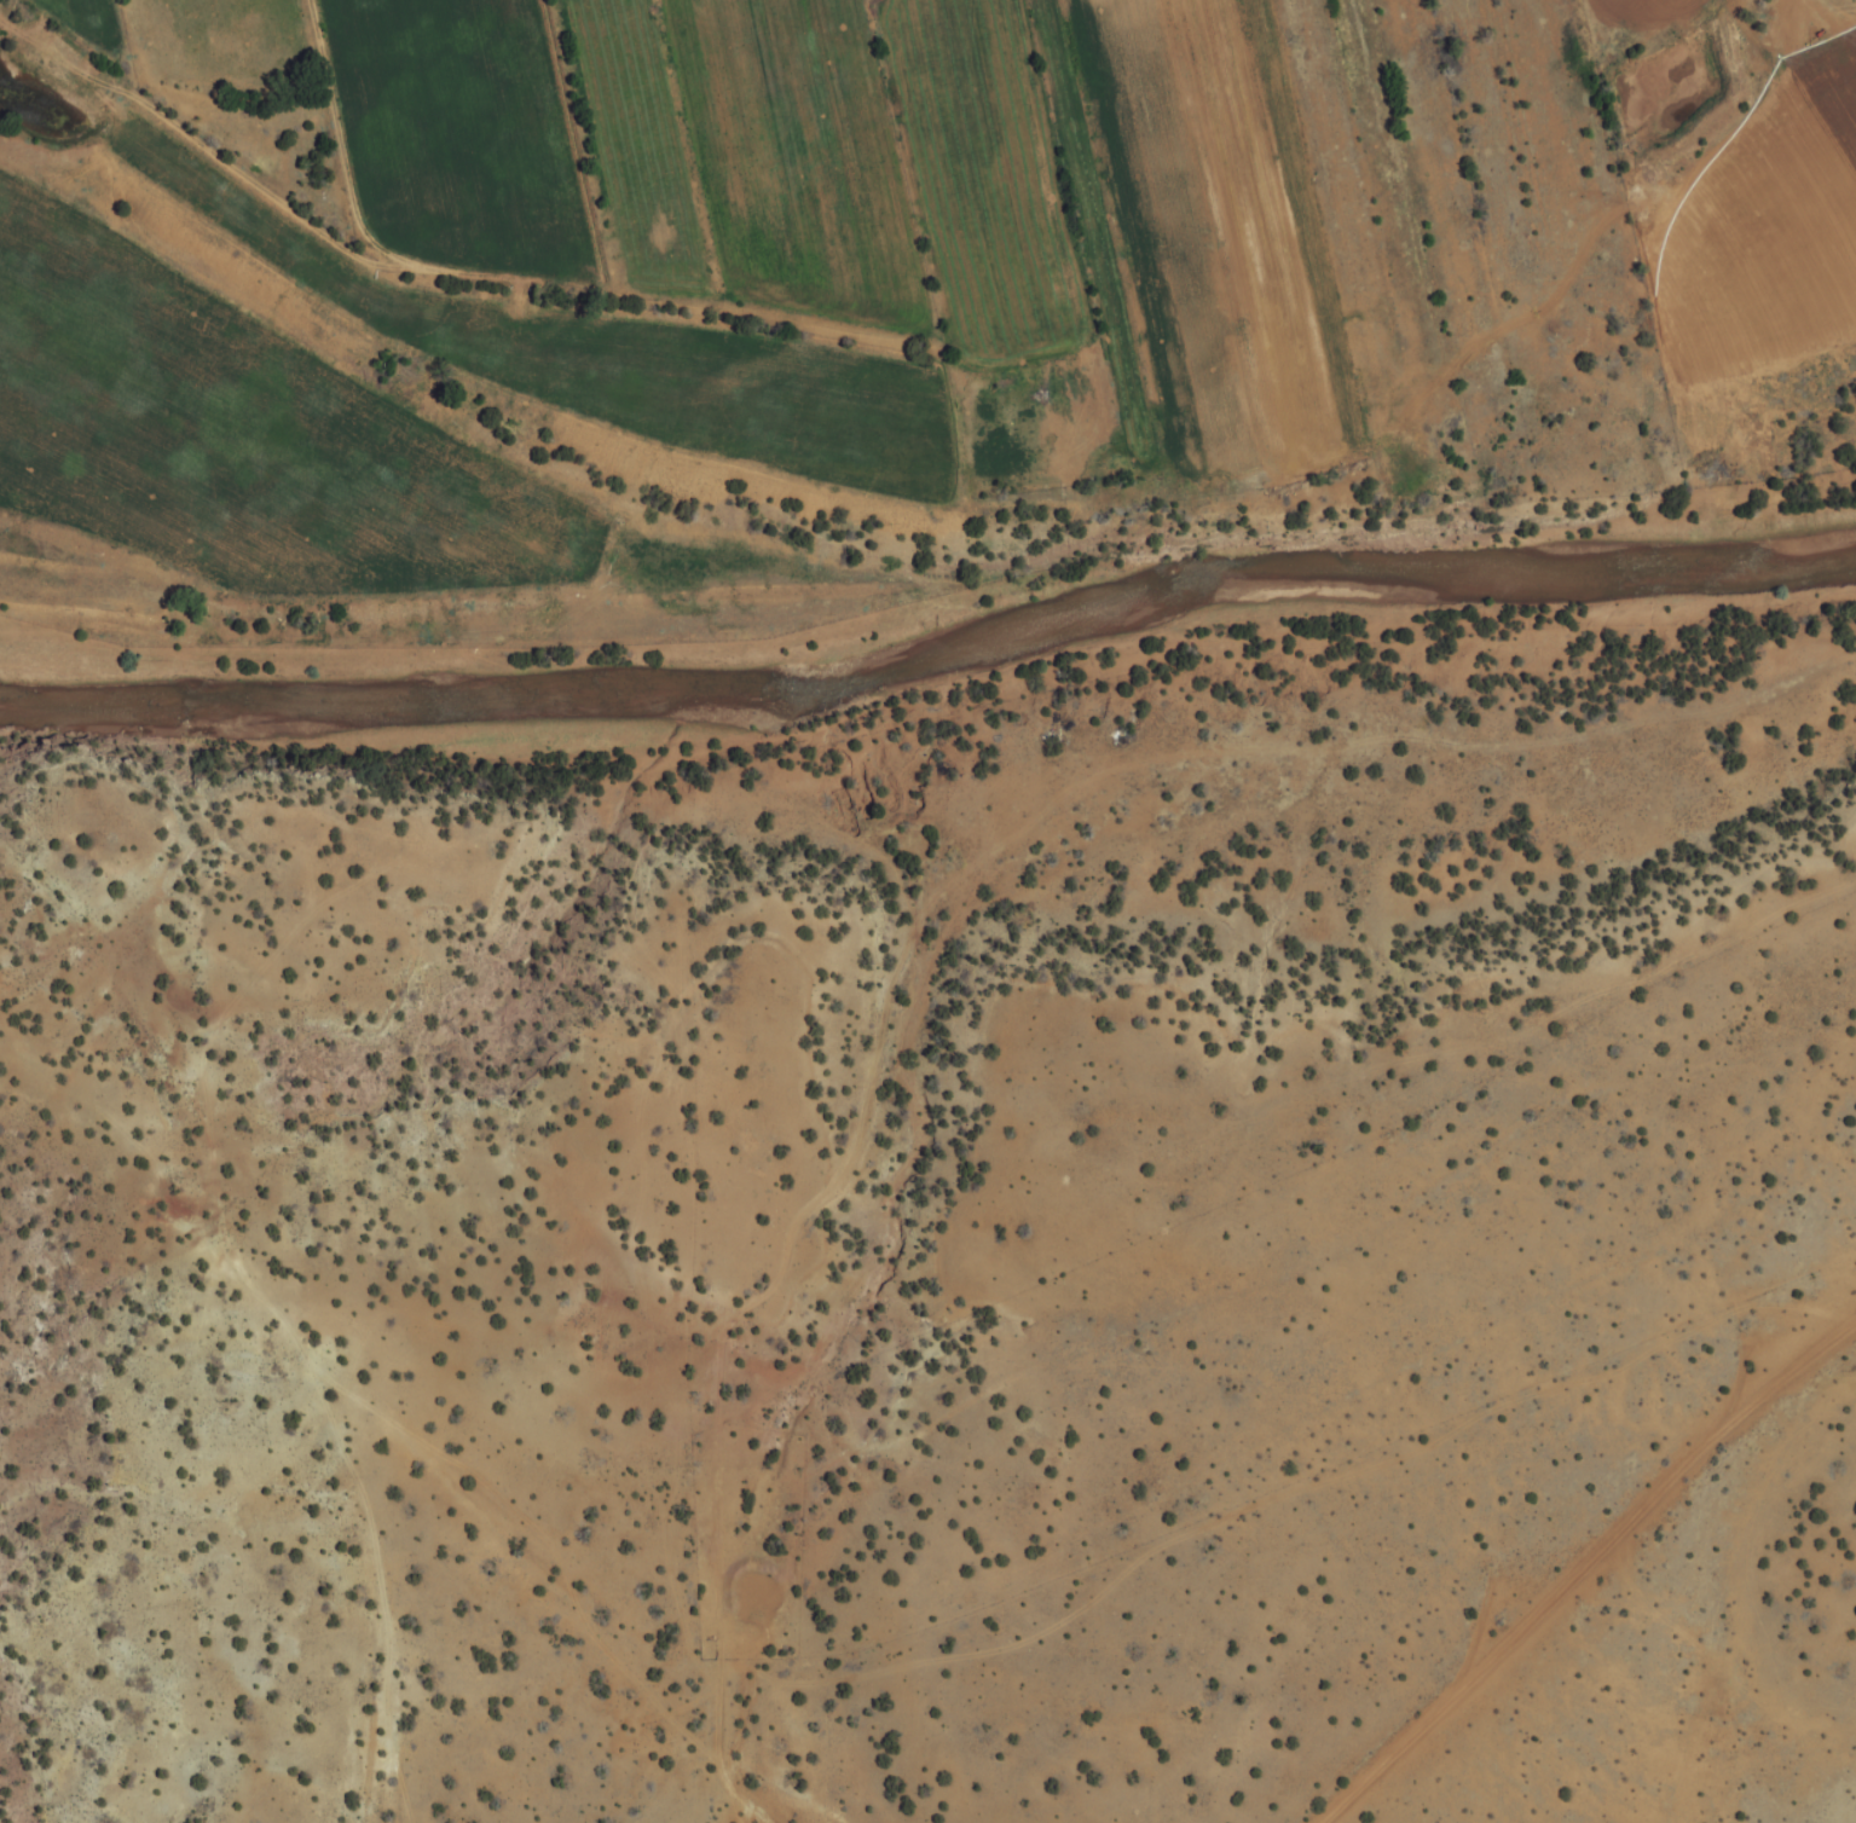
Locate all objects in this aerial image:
river: (929, 660)
road: (1499, 1463)

